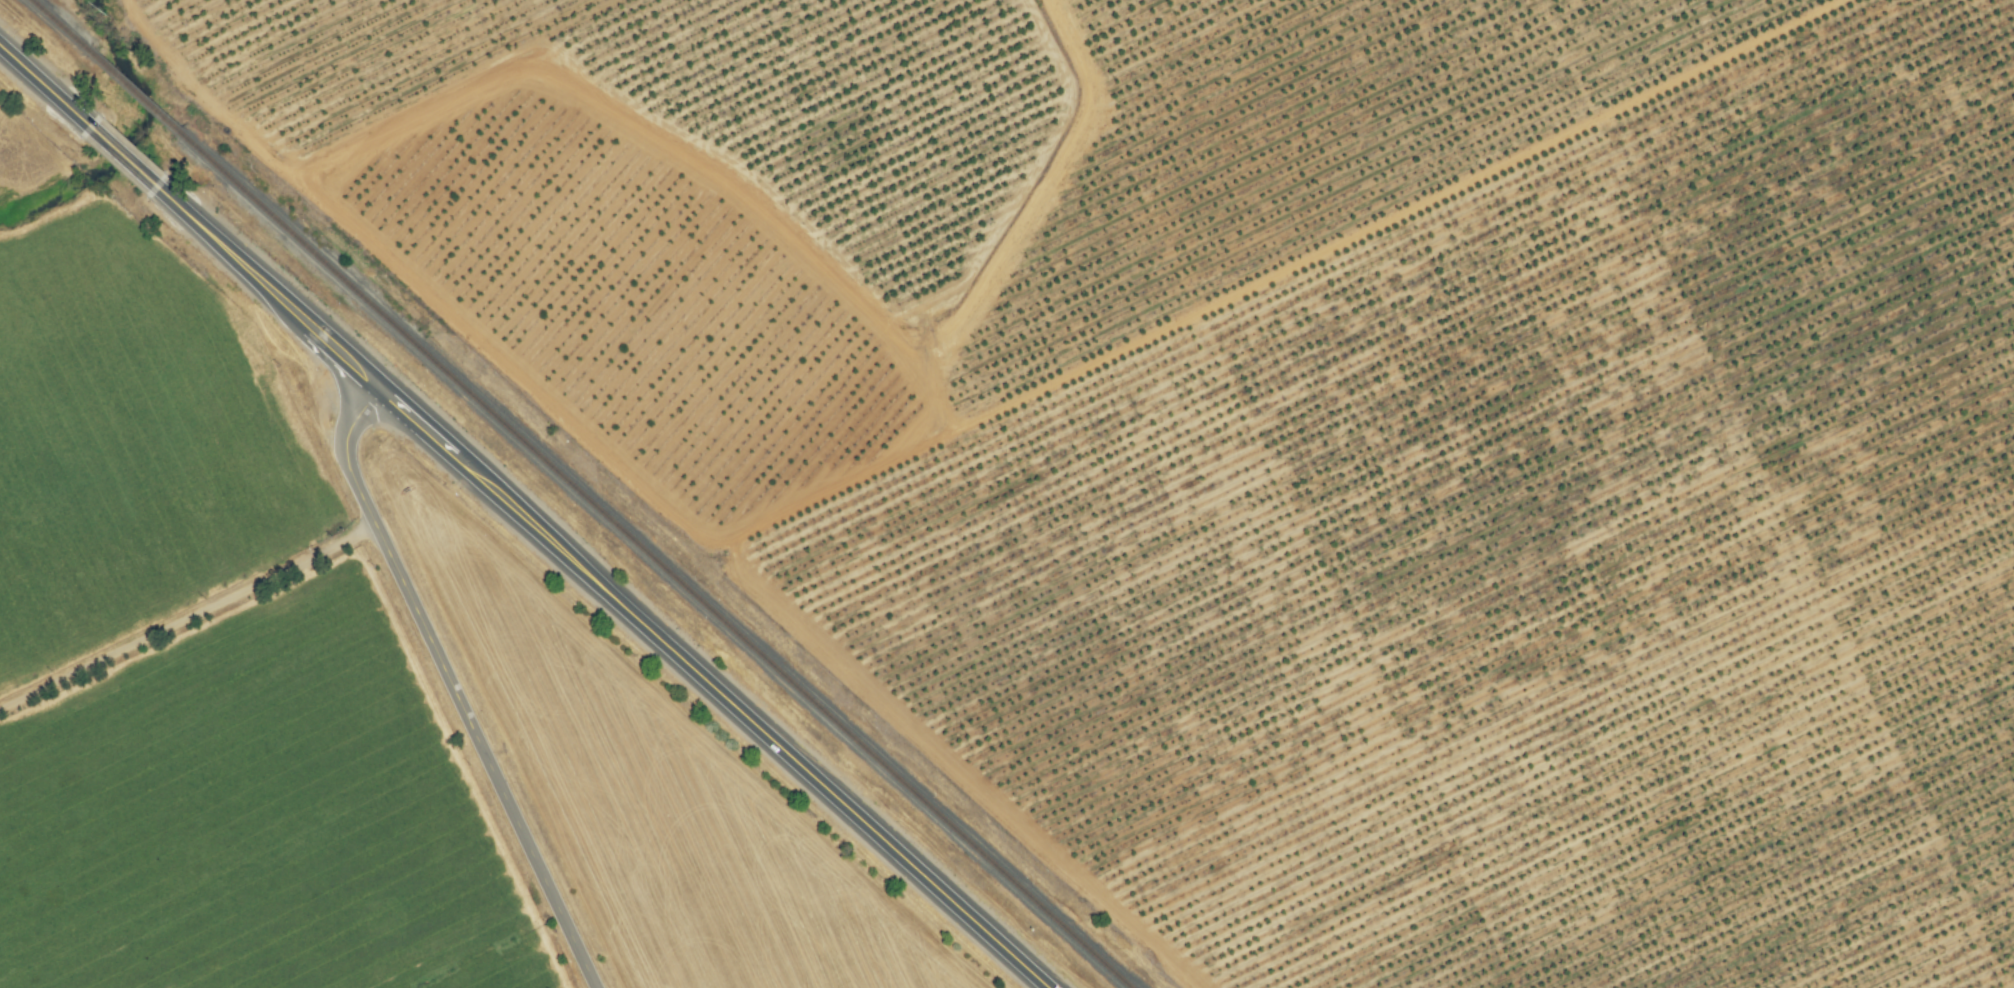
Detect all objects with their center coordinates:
railway: (61, 24)
road: (47, 87)
railway: (136, 92)
road: (125, 158)
road: (268, 288)
railway: (656, 561)
road: (187, 618)
road: (451, 686)
road: (713, 688)

